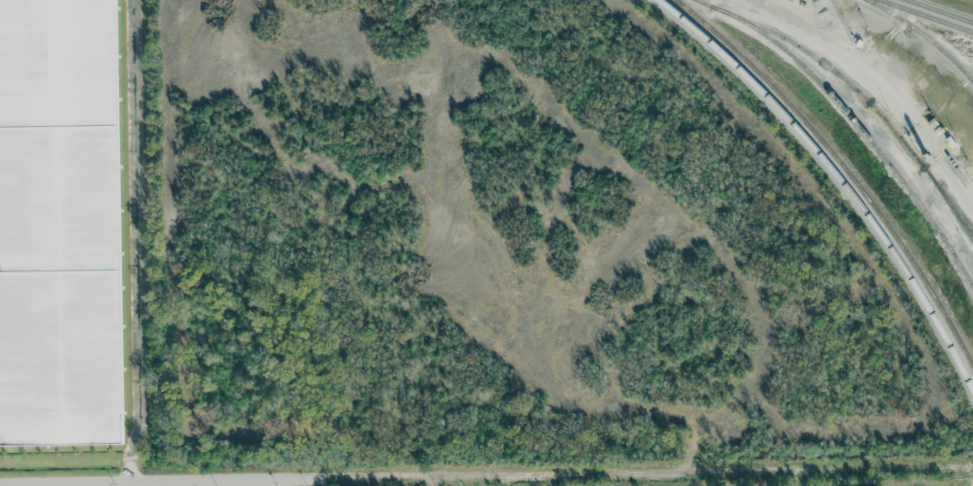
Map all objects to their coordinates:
railway: (941, 10)
railway: (927, 15)
railway: (925, 35)
road: (876, 84)
railway: (858, 91)
railway: (859, 127)
railway: (844, 167)
railway: (838, 179)
railway: (955, 208)
building: (58, 222)
road: (136, 239)
road: (640, 471)
road: (160, 477)
road: (179, 481)
road: (265, 481)
road: (32, 482)

